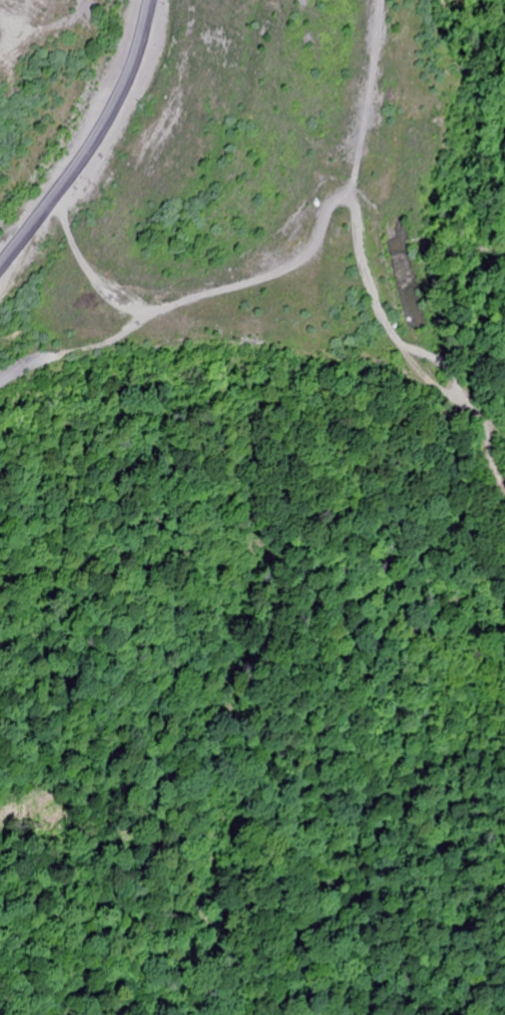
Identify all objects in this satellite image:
road: (334, 343)

